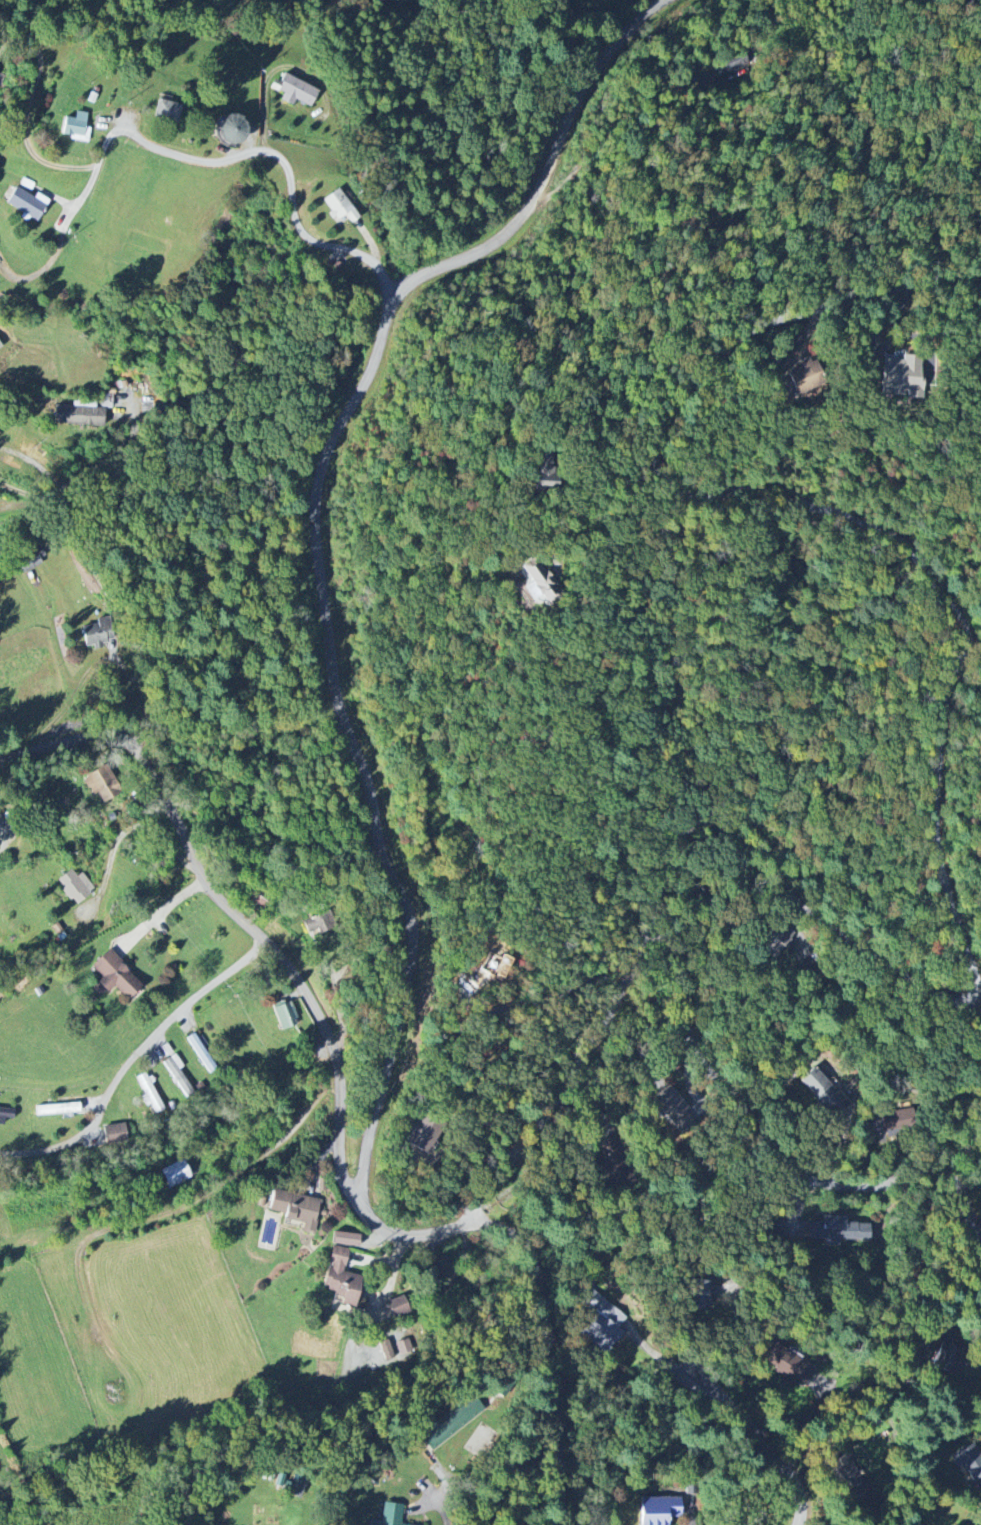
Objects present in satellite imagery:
building: (296, 91)
building: (168, 111)
road: (25, 117)
building: (76, 127)
road: (605, 128)
building: (232, 129)
road: (273, 156)
building: (27, 203)
building: (339, 207)
building: (0, 346)
building: (805, 377)
building: (901, 377)
building: (79, 416)
road: (112, 452)
road: (607, 460)
road: (42, 468)
road: (25, 489)
road: (315, 548)
building: (539, 582)
road: (117, 613)
building: (99, 633)
road: (83, 678)
building: (101, 783)
road: (933, 840)
building: (75, 886)
building: (255, 898)
road: (160, 911)
building: (317, 924)
building: (114, 976)
building: (285, 1016)
road: (131, 1058)
building: (178, 1074)
building: (823, 1091)
building: (149, 1094)
building: (669, 1103)
road: (339, 1107)
building: (57, 1109)
building: (6, 1114)
road: (474, 1126)
building: (115, 1134)
building: (423, 1139)
road: (768, 1157)
building: (176, 1174)
building: (296, 1208)
road: (980, 1228)
building: (837, 1229)
building: (346, 1239)
building: (341, 1278)
building: (701, 1294)
building: (398, 1307)
building: (601, 1325)
building: (404, 1347)
building: (389, 1351)
building: (794, 1368)
road: (769, 1435)
building: (848, 1478)
road: (445, 1510)
building: (658, 1510)
building: (389, 1515)

